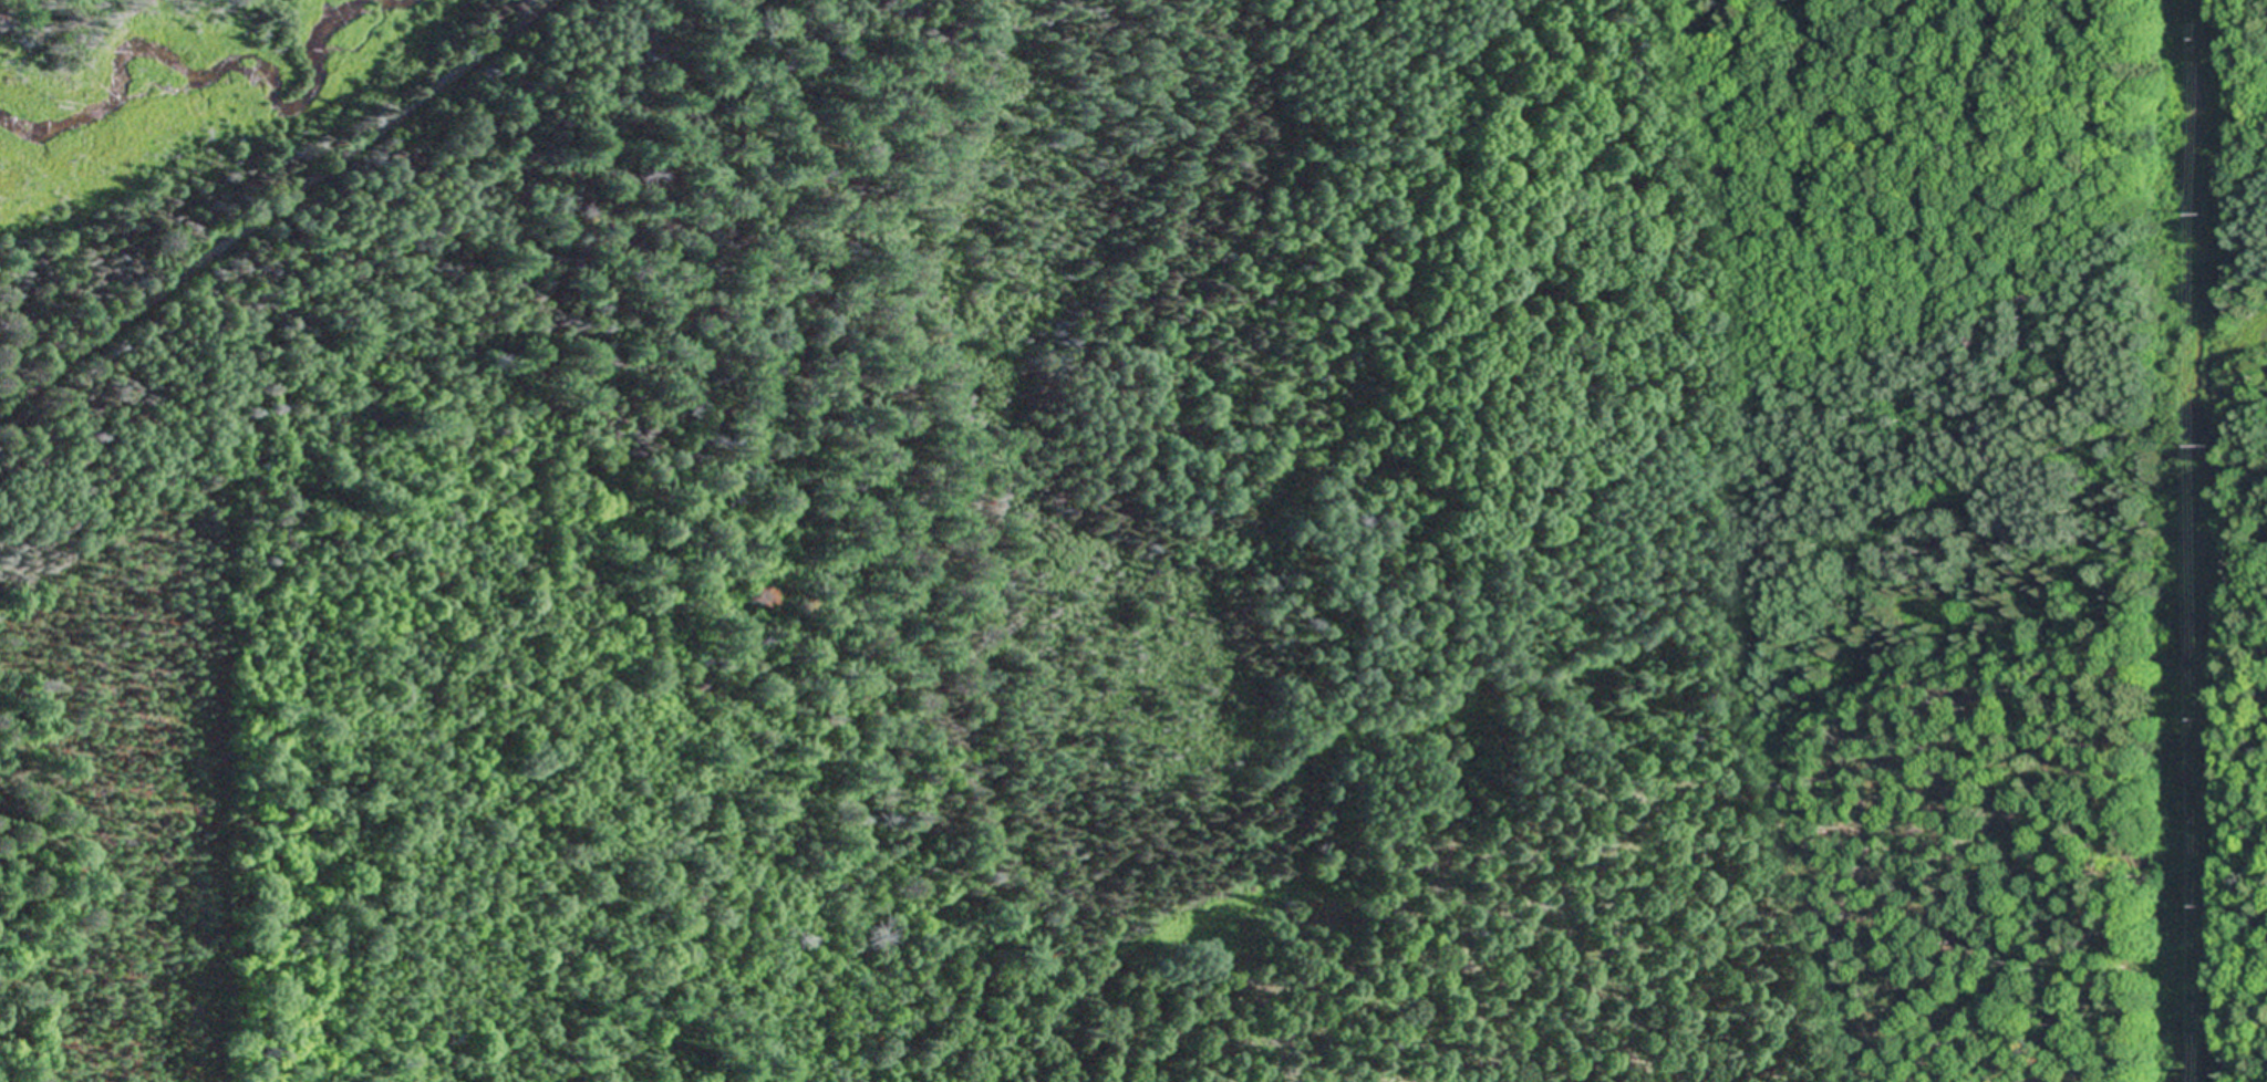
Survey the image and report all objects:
road: (275, 195)

